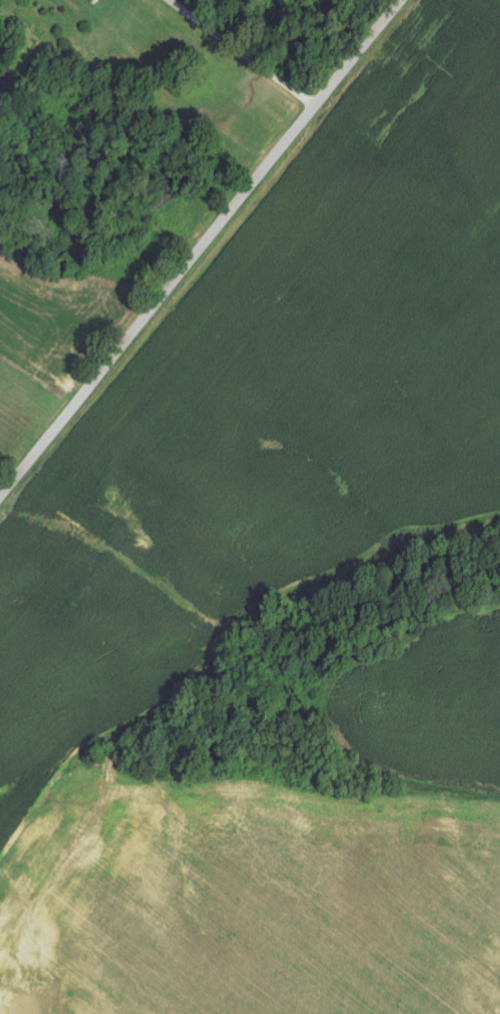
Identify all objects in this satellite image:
road: (244, 53)
road: (200, 247)

